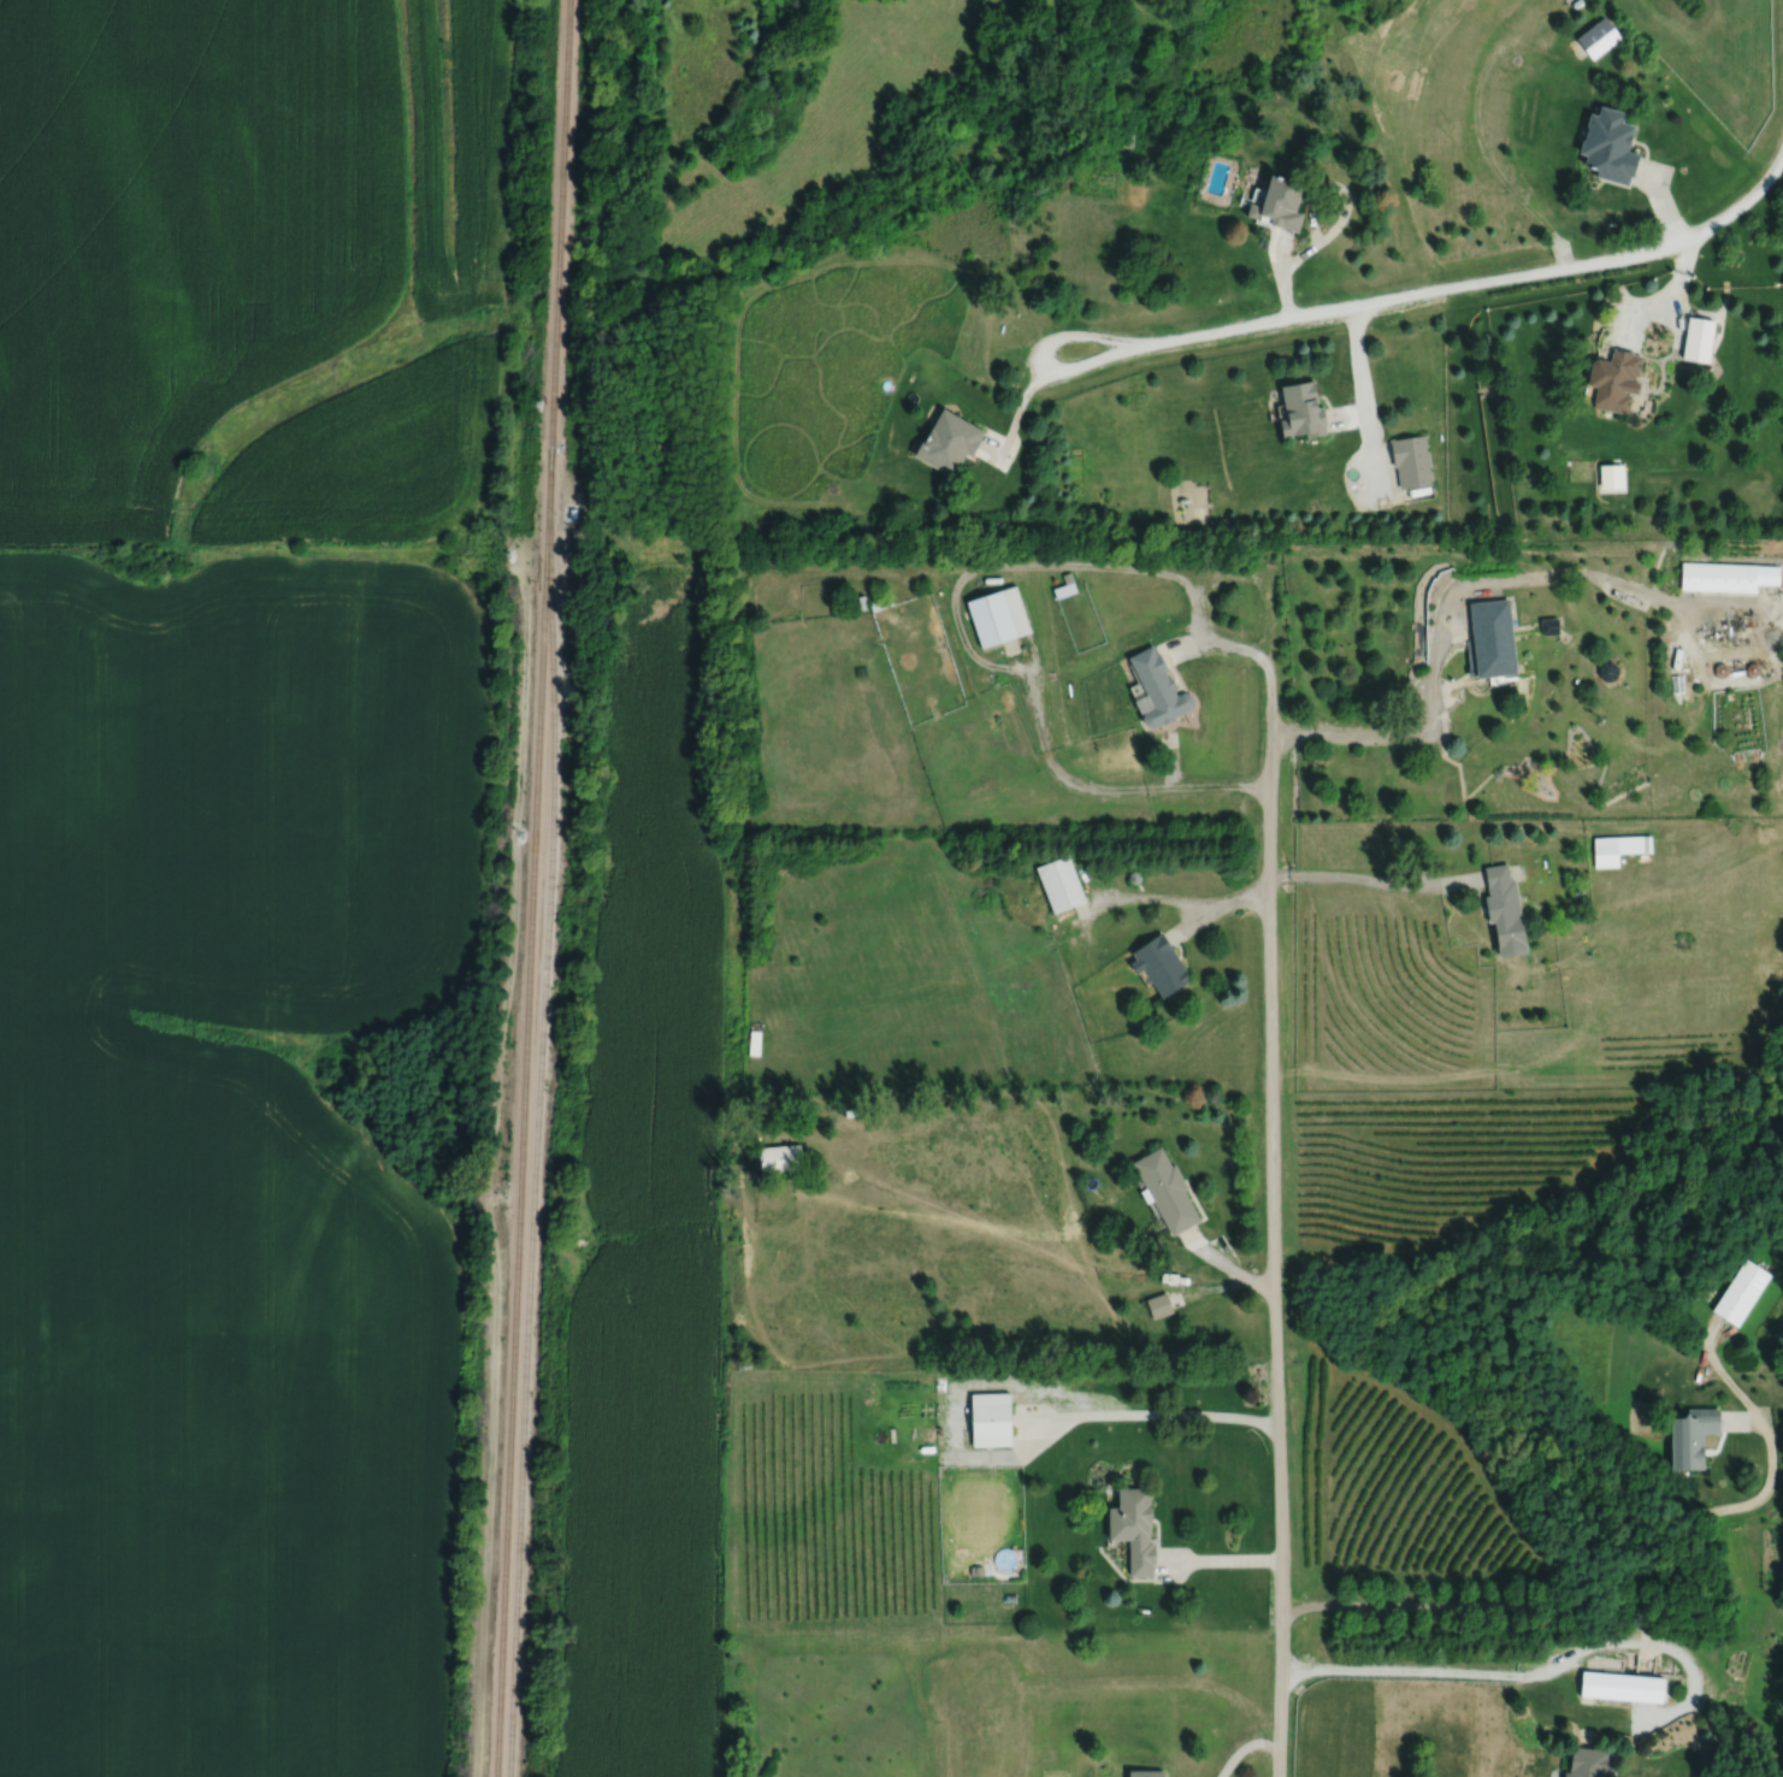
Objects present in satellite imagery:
building: (1598, 37)
building: (1608, 146)
building: (1279, 205)
road: (1659, 205)
road: (1344, 213)
road: (1276, 250)
road: (1281, 270)
road: (1441, 287)
road: (1675, 294)
road: (1637, 312)
building: (1698, 337)
building: (1614, 377)
road: (1363, 402)
road: (1019, 406)
building: (1301, 408)
building: (949, 439)
building: (1411, 459)
building: (1611, 474)
building: (1724, 577)
building: (1062, 590)
road: (954, 597)
building: (878, 603)
road: (1443, 615)
building: (996, 616)
building: (1489, 638)
building: (1156, 689)
building: (1604, 851)
building: (1057, 884)
railway: (531, 887)
road: (1374, 889)
building: (1500, 905)
building: (1158, 967)
building: (1781, 979)
railway: (535, 1114)
building: (778, 1157)
building: (1164, 1188)
building: (1685, 1215)
road: (1275, 1253)
building: (1741, 1292)
building: (1157, 1304)
building: (987, 1418)
road: (1151, 1427)
building: (1688, 1435)
building: (1132, 1527)
road: (1598, 1594)
road: (1418, 1669)
building: (1619, 1687)
road: (1251, 1754)
building: (1586, 1763)
building: (1144, 1772)

